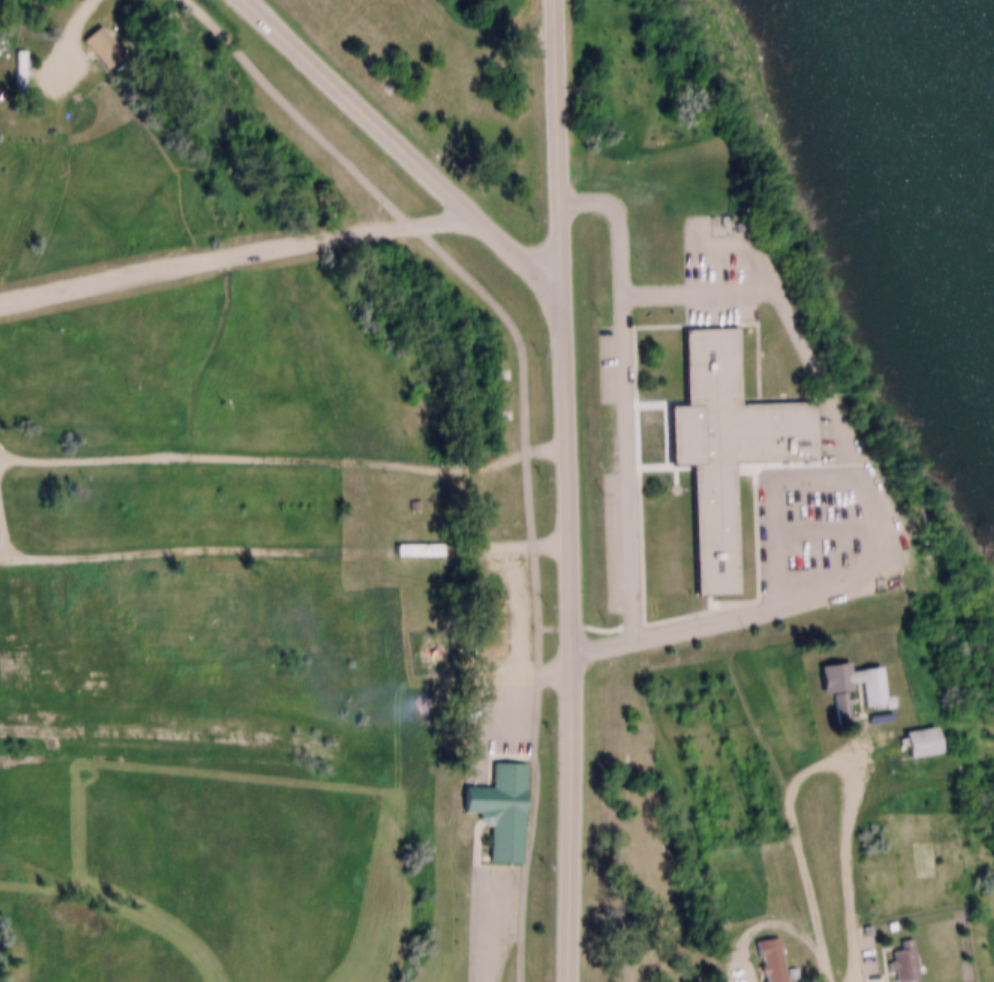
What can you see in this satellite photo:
road: (62, 31)
building: (95, 37)
building: (15, 61)
building: (21, 76)
road: (408, 149)
road: (38, 166)
road: (738, 235)
road: (235, 253)
road: (625, 389)
building: (718, 437)
road: (286, 457)
road: (766, 489)
road: (569, 490)
road: (871, 495)
road: (2, 512)
road: (820, 520)
building: (422, 540)
road: (529, 541)
road: (244, 551)
building: (491, 624)
road: (518, 632)
building: (859, 682)
building: (874, 689)
building: (908, 732)
building: (920, 741)
road: (819, 757)
building: (496, 802)
road: (118, 902)
road: (757, 920)
road: (484, 930)
building: (765, 955)
building: (904, 963)
road: (34, 971)

